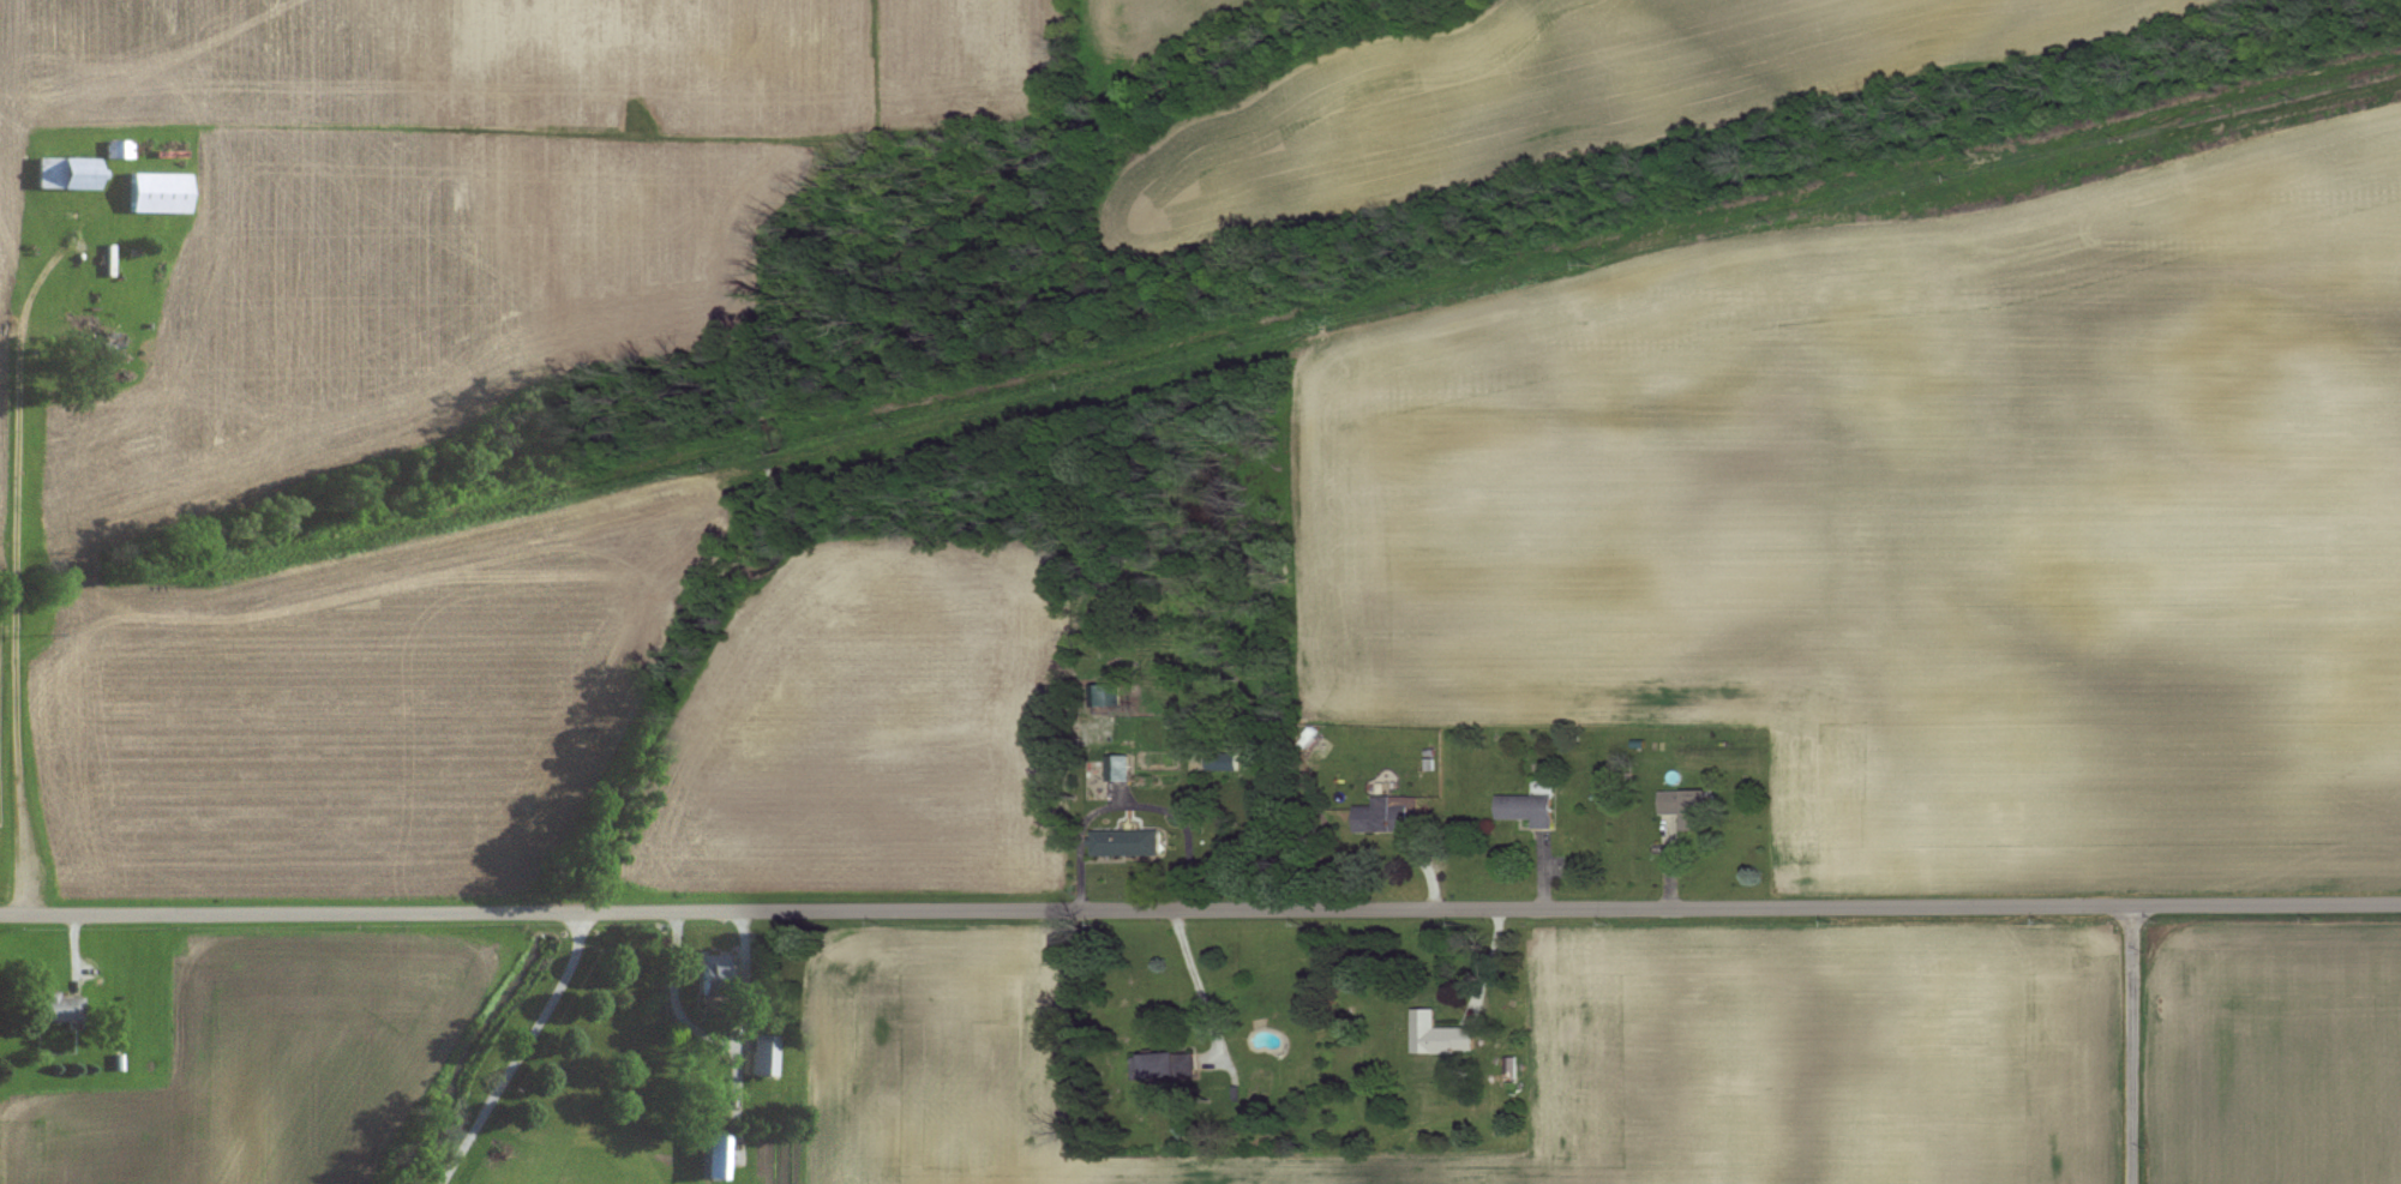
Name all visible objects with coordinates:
building: (116, 149)
building: (64, 173)
building: (156, 192)
building: (92, 339)
road: (16, 576)
building: (1108, 696)
building: (1224, 762)
building: (1120, 768)
road: (1133, 803)
building: (1689, 809)
building: (1530, 810)
building: (1394, 815)
building: (1129, 842)
road: (1671, 869)
road: (1429, 870)
road: (1548, 871)
road: (1251, 906)
road: (52, 910)
road: (73, 950)
road: (1489, 963)
road: (1198, 979)
building: (714, 982)
road: (672, 993)
building: (58, 1008)
road: (738, 1027)
building: (1441, 1035)
road: (2130, 1044)
road: (517, 1048)
building: (763, 1056)
building: (1164, 1066)
building: (713, 1158)

